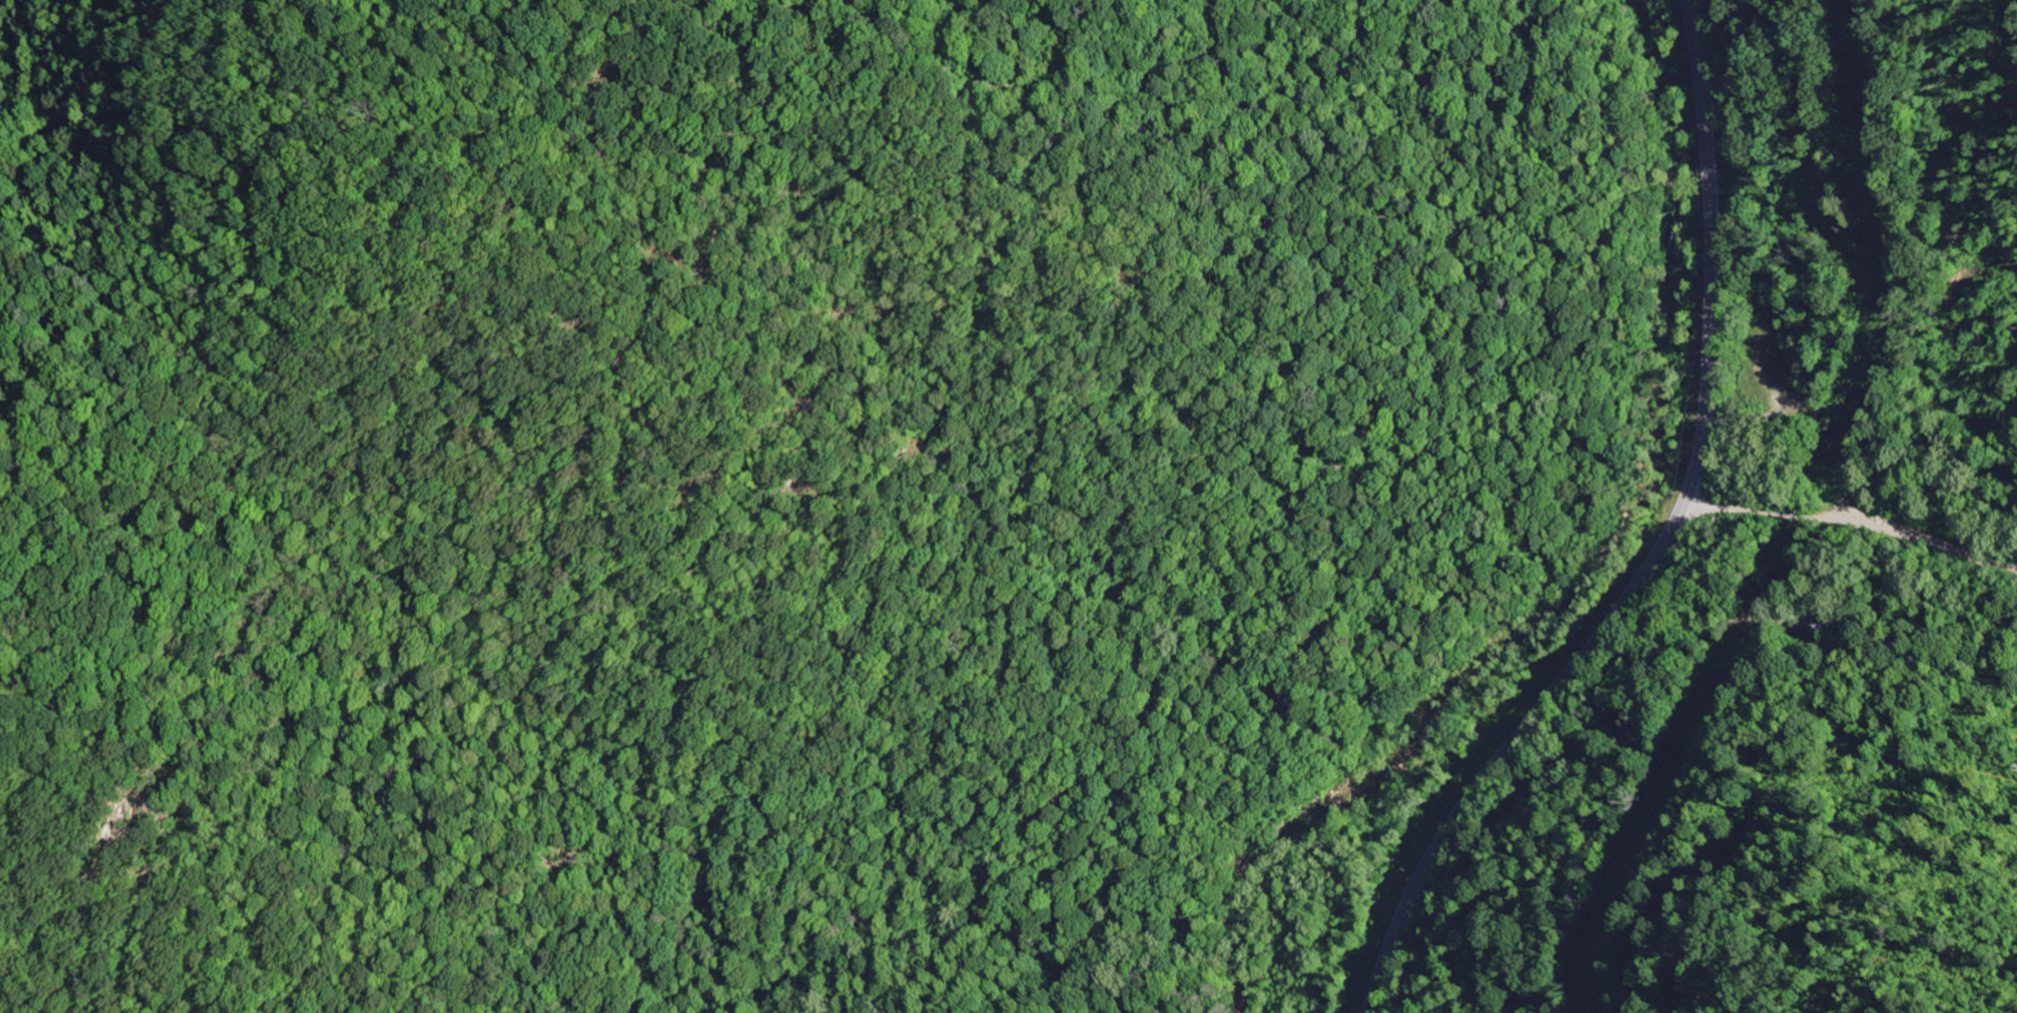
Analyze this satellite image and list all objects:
road: (1855, 517)
road: (1663, 546)

